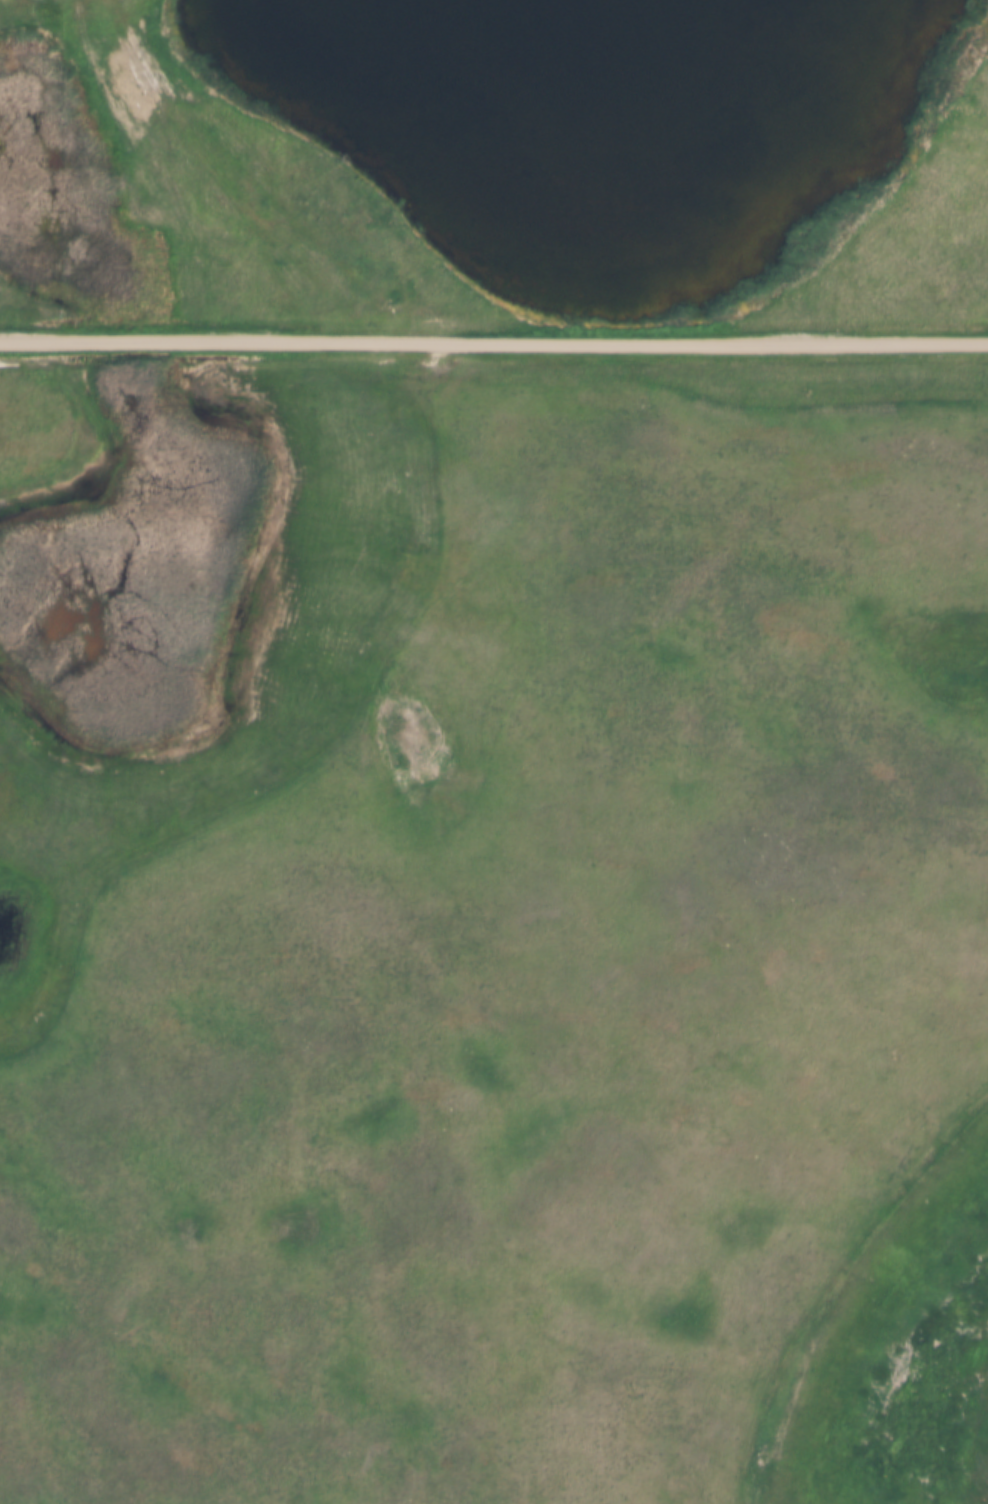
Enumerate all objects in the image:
road: (494, 341)

